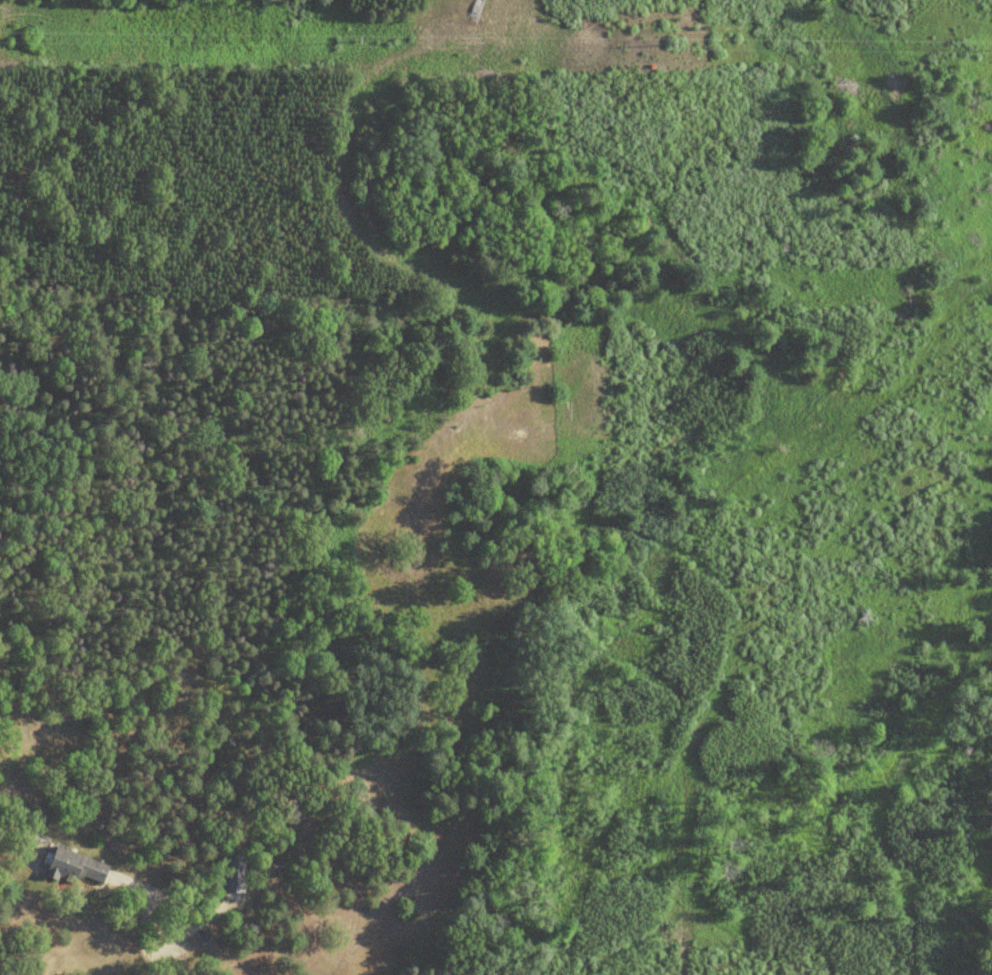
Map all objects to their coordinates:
building: (73, 865)
building: (232, 872)

